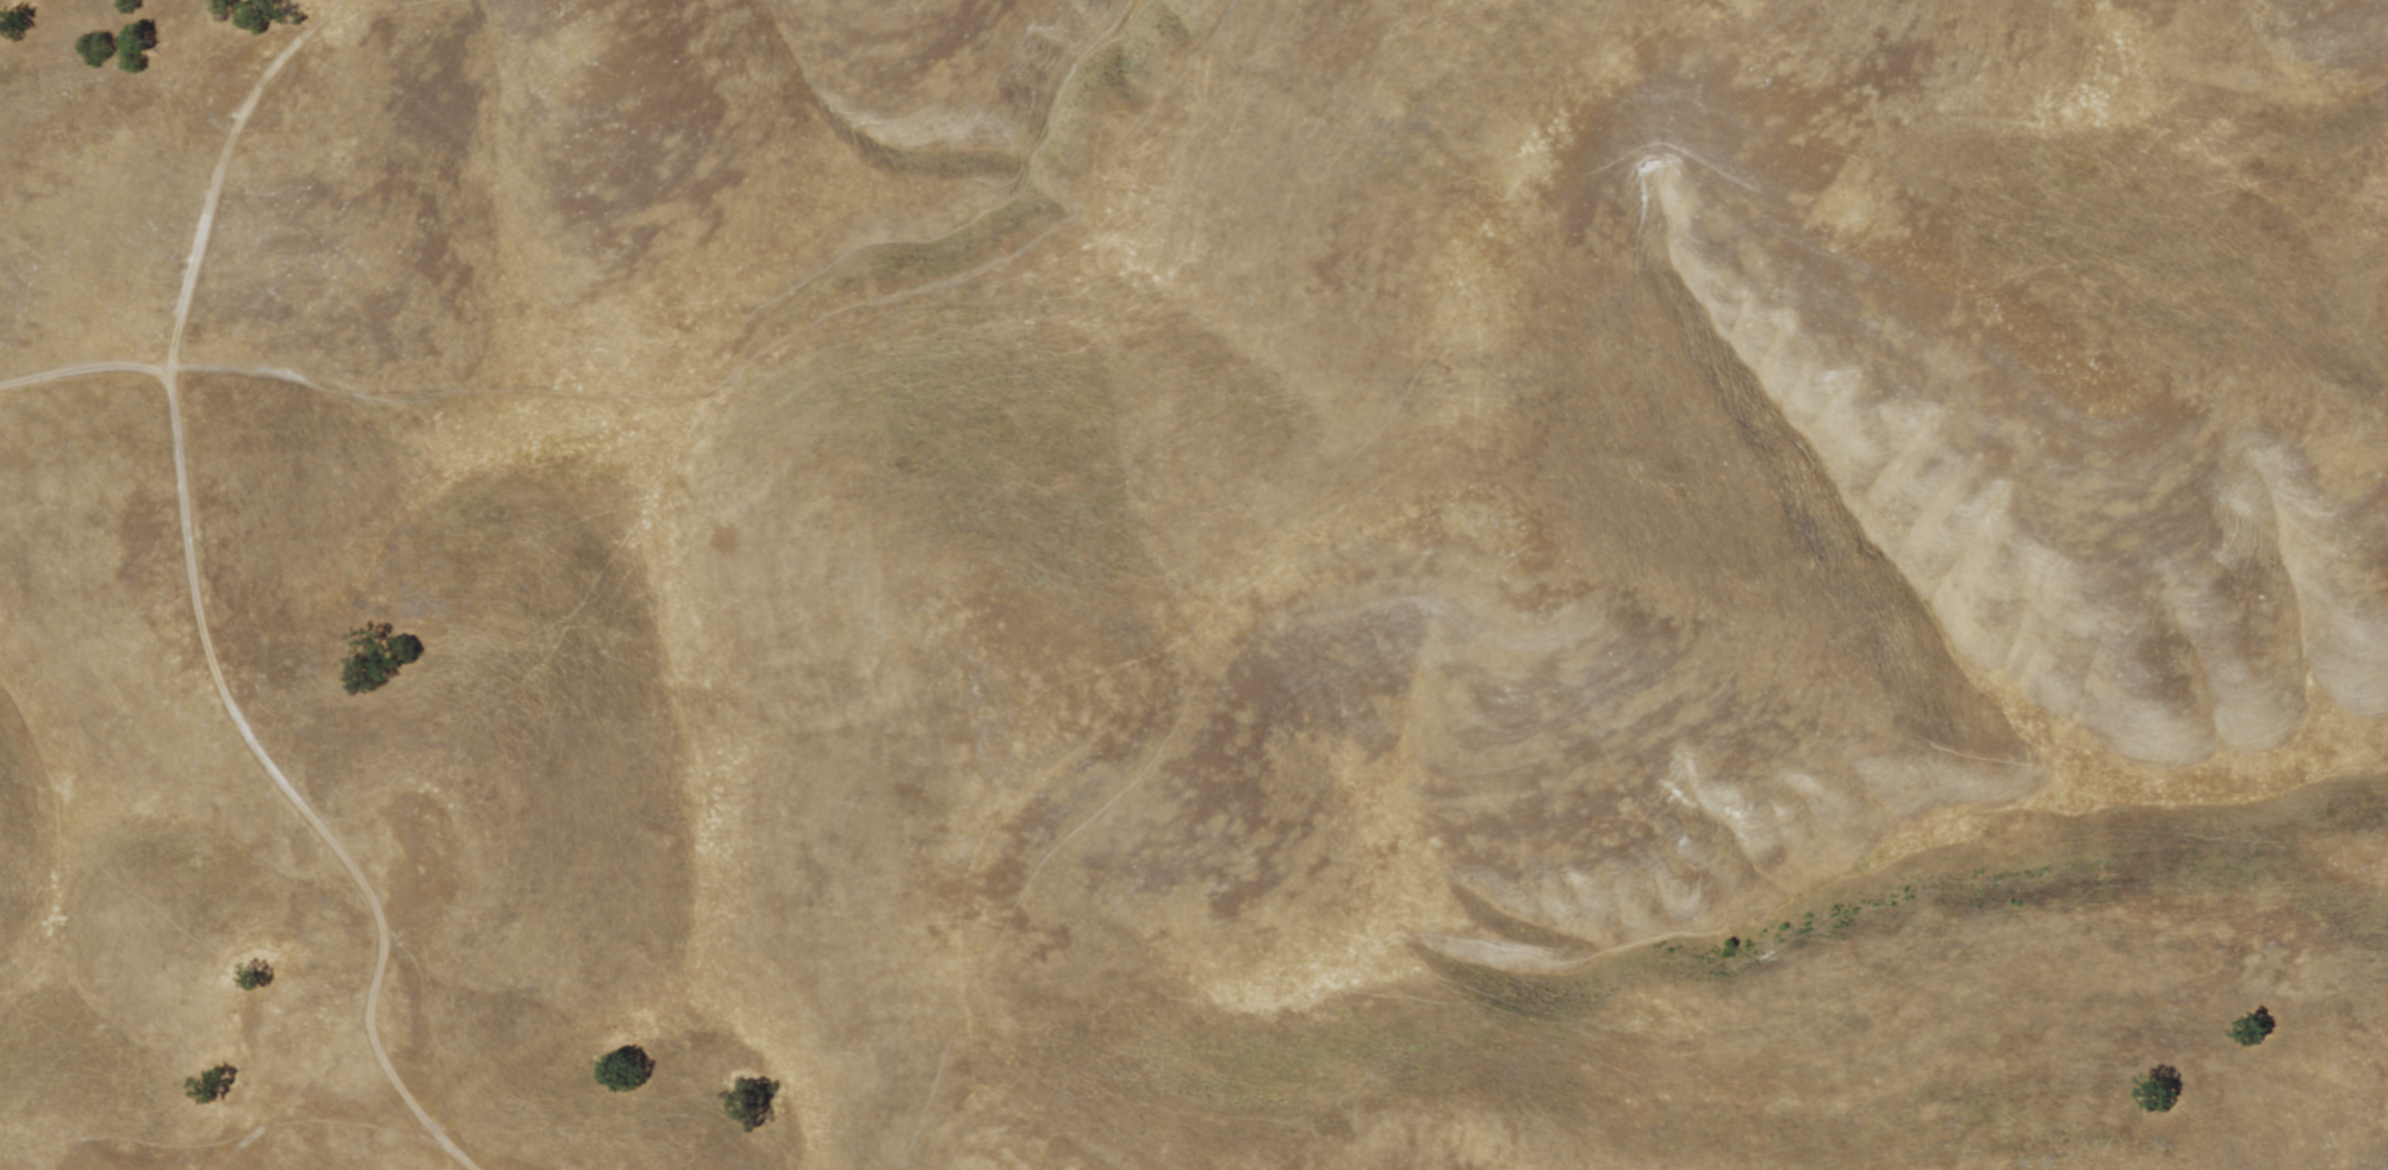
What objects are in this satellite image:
road: (86, 367)
road: (192, 575)
road: (331, 1127)

